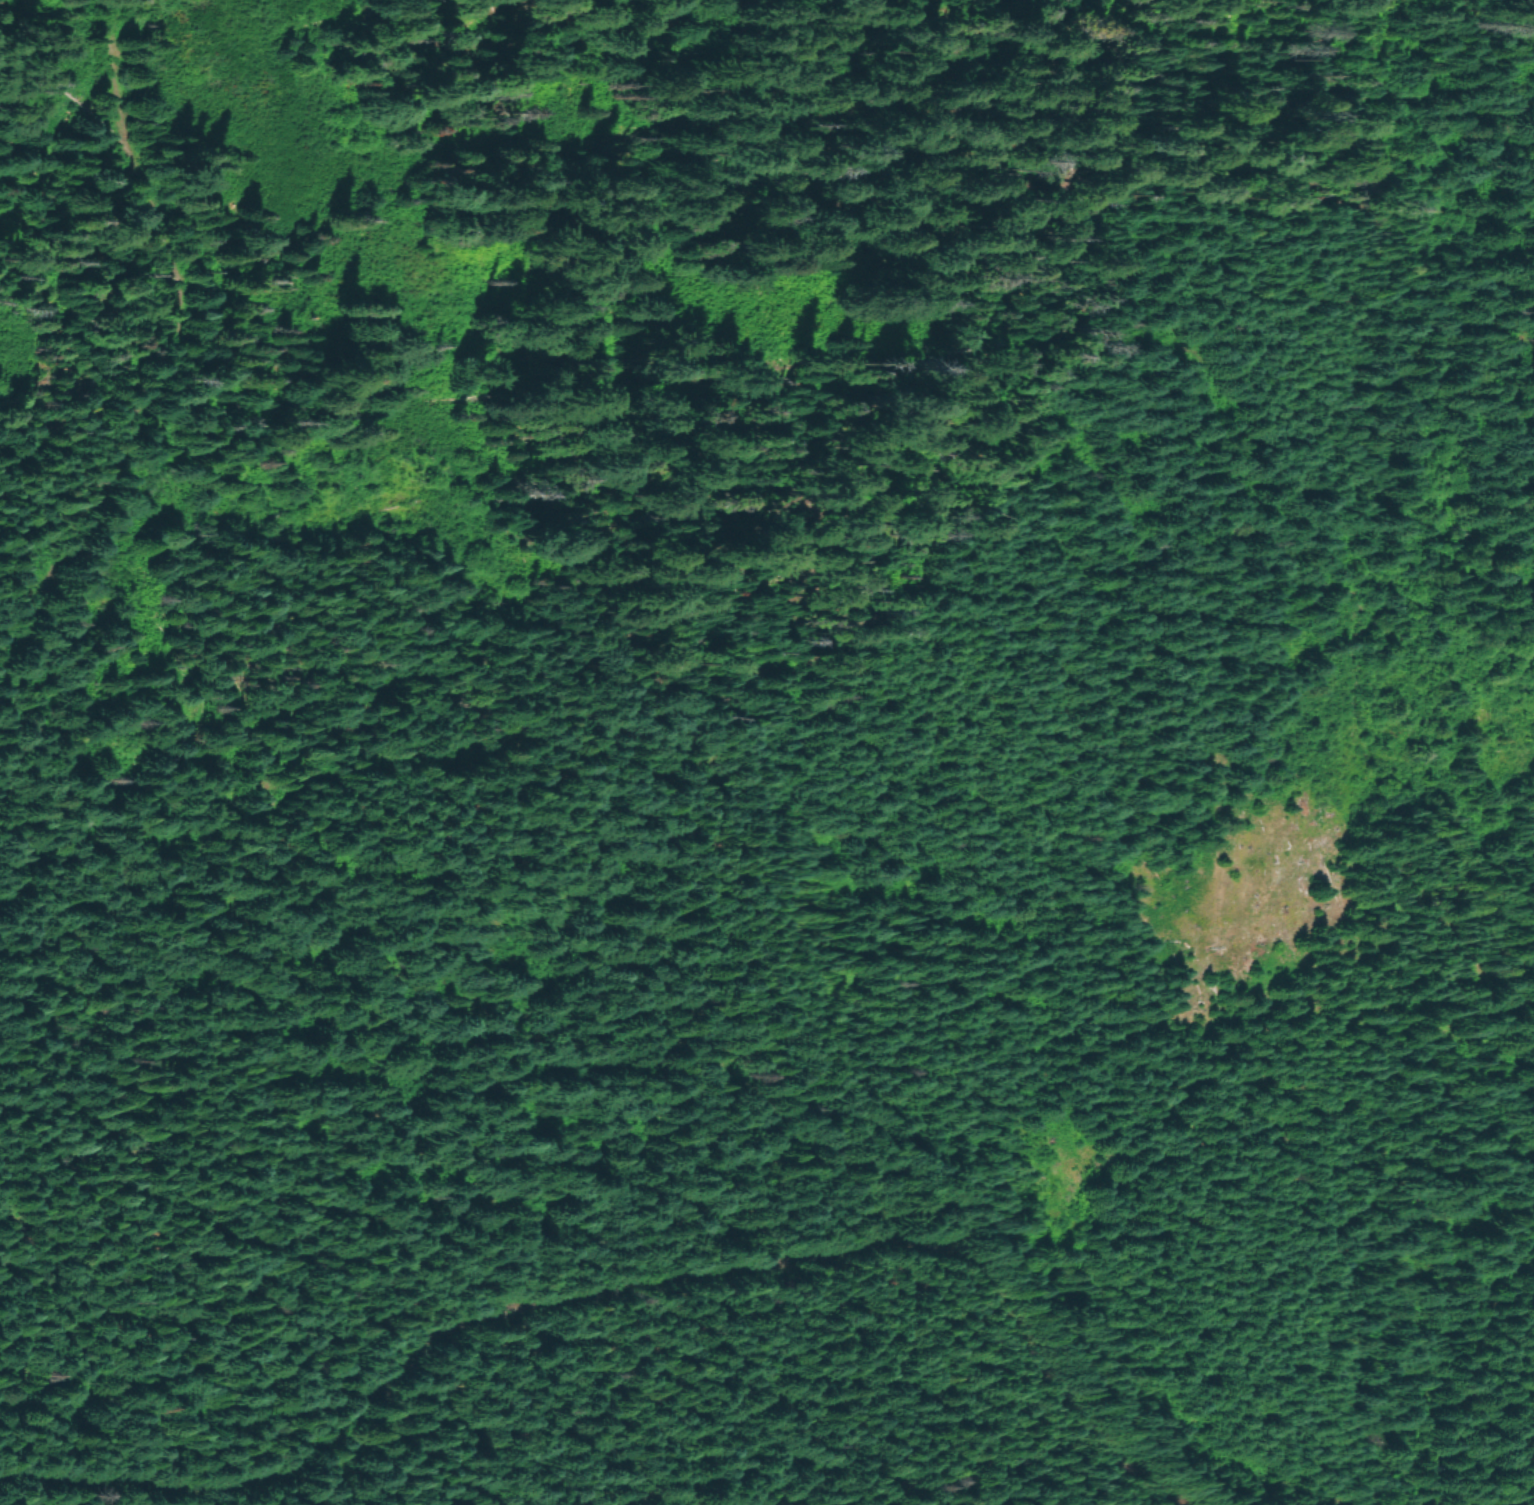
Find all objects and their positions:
road: (161, 345)
road: (627, 1297)

